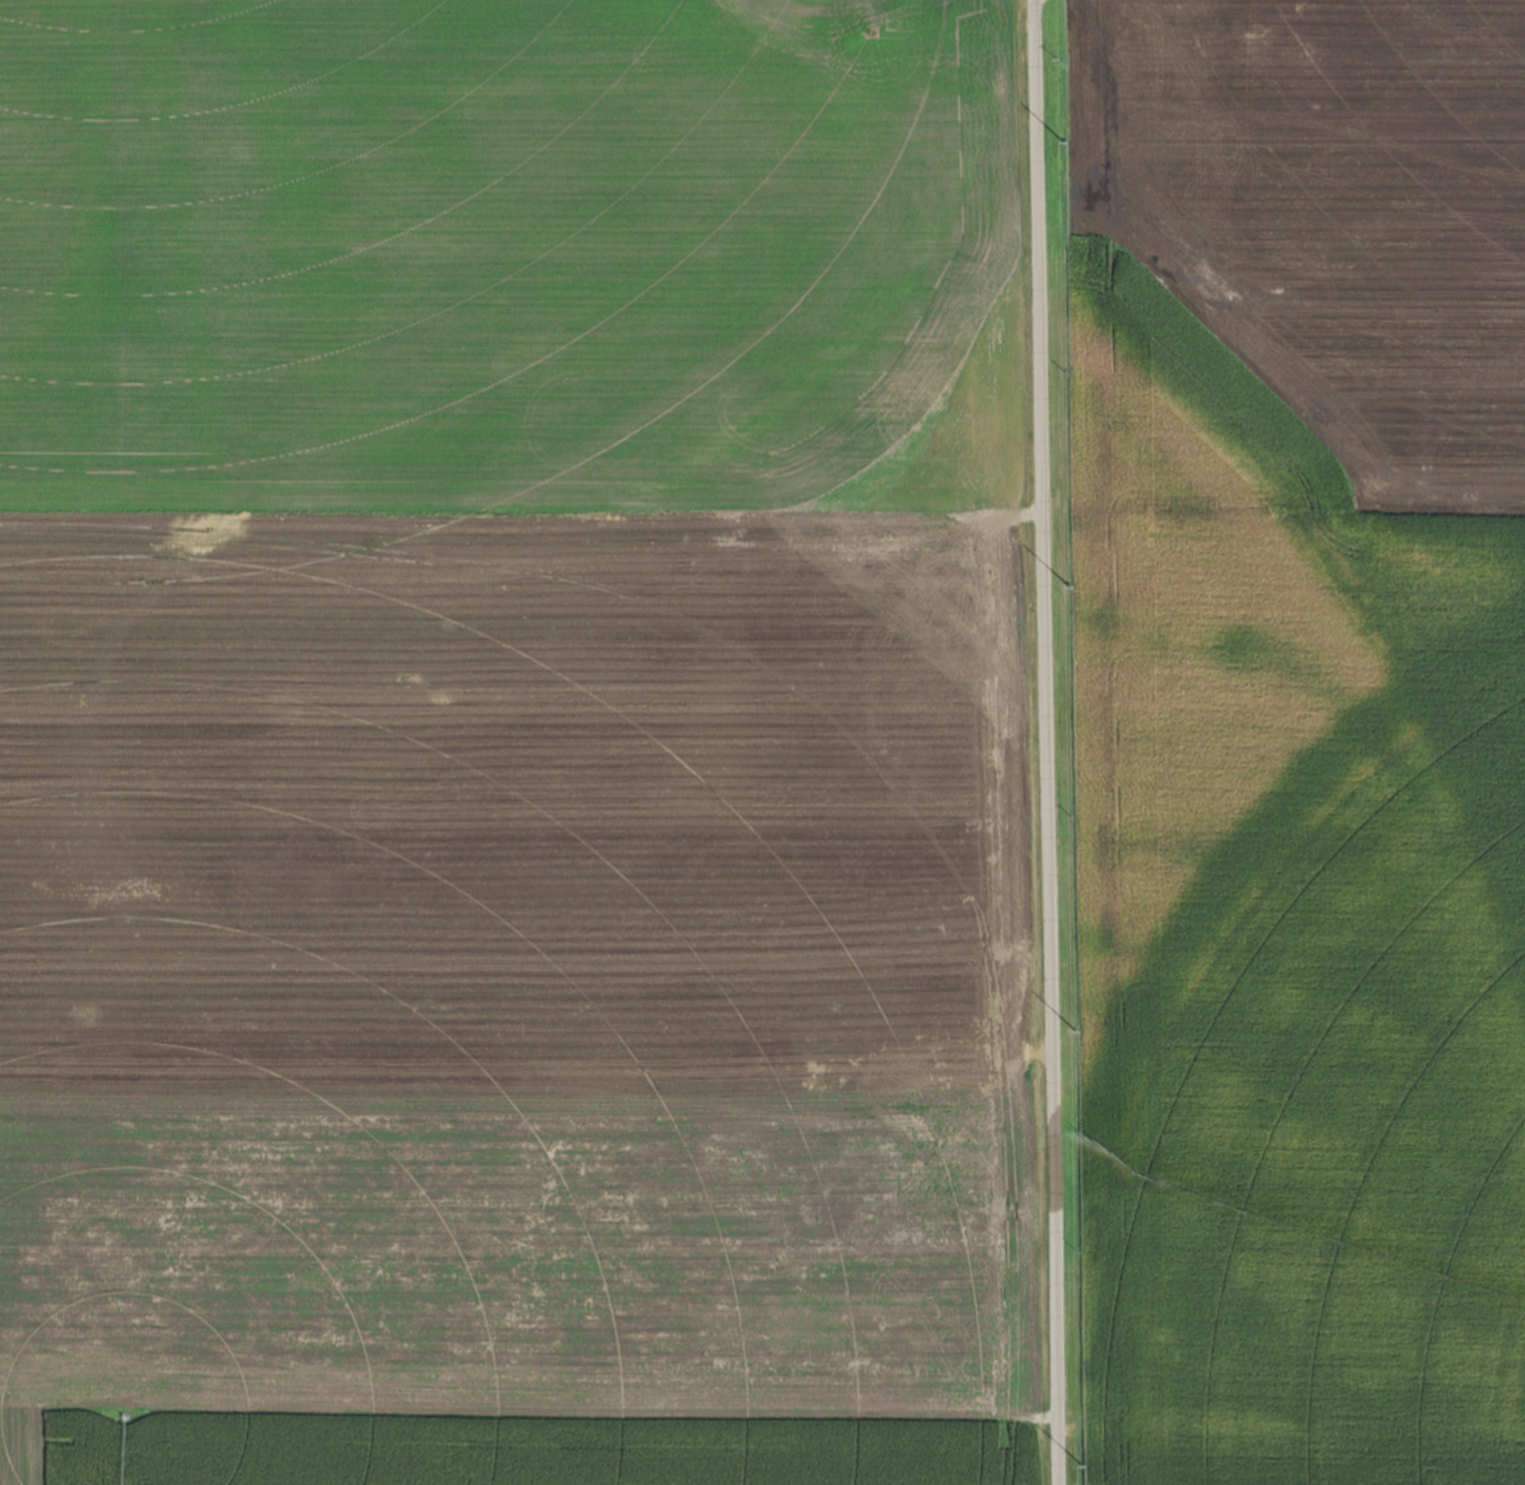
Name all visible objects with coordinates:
power tower: (1067, 140)
power tower: (1073, 583)
road: (1043, 742)
power tower: (1078, 1031)
power tower: (1086, 1462)

